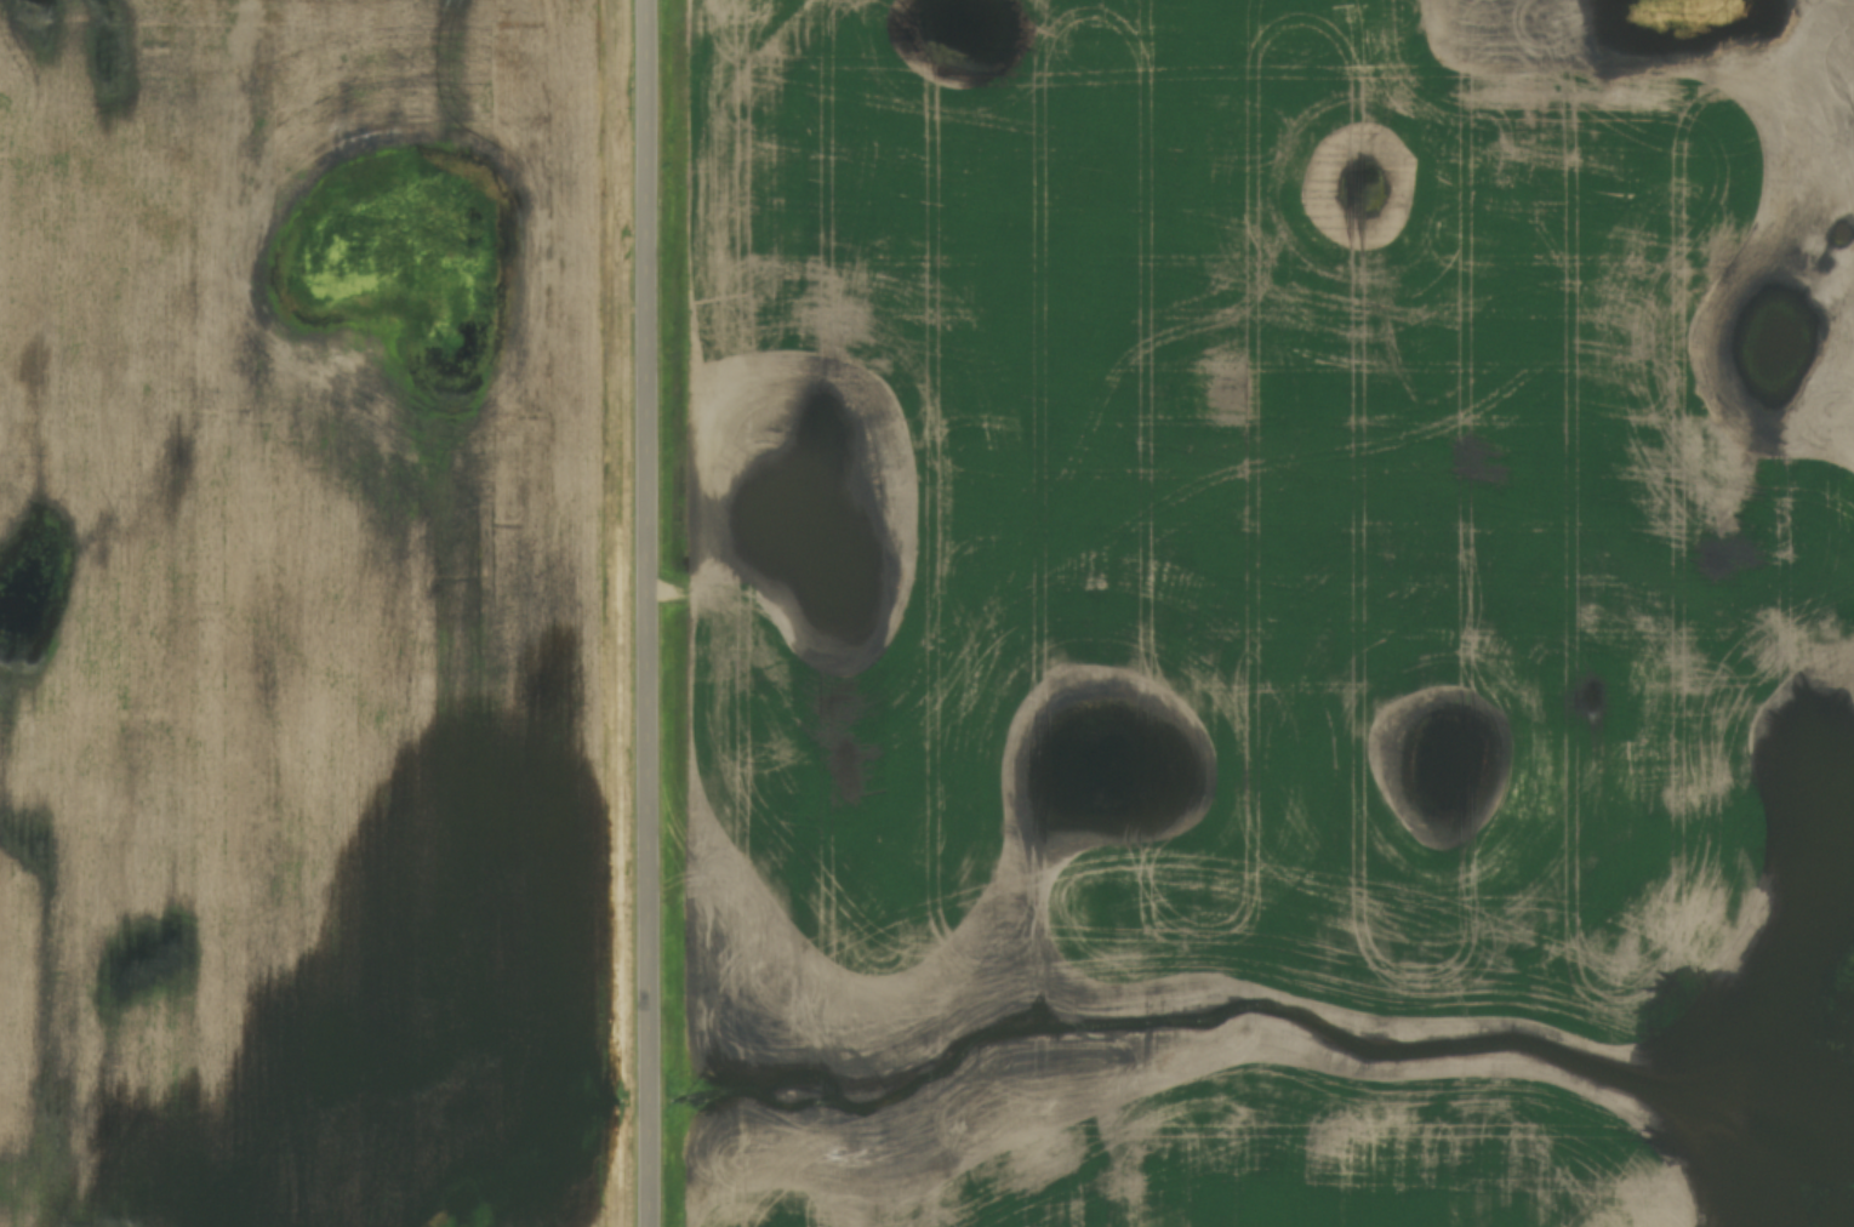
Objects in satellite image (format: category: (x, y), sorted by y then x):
road: (648, 612)

